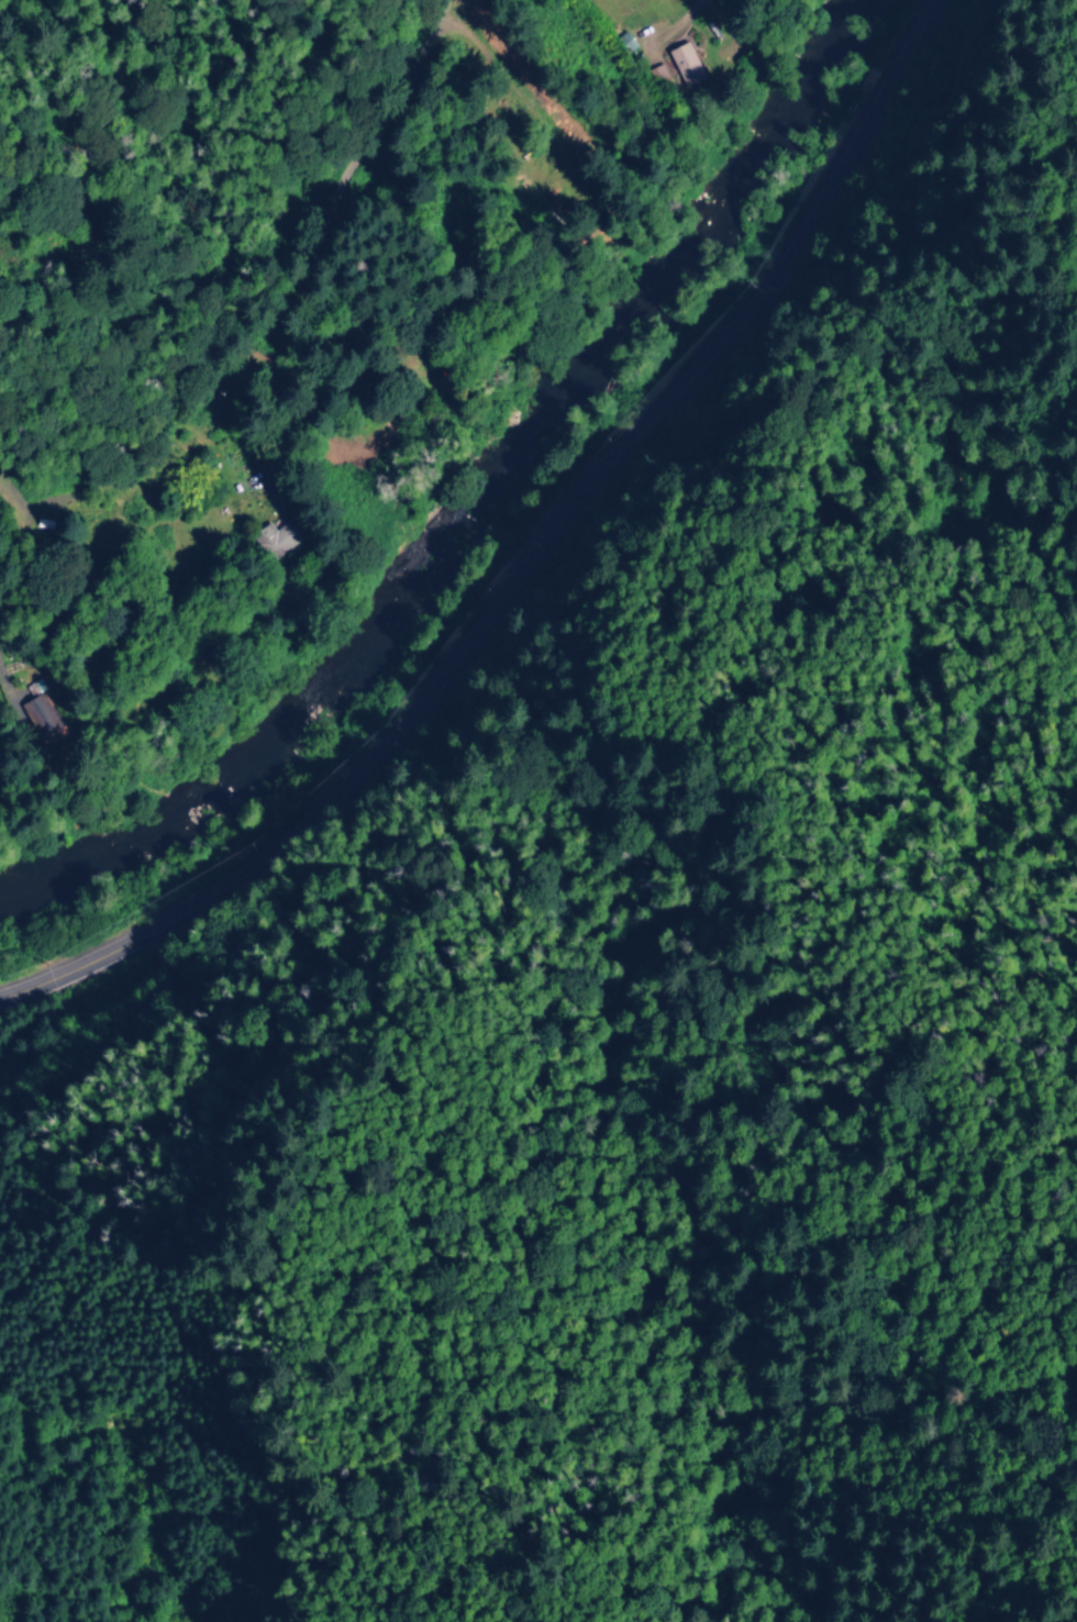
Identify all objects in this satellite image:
building: (623, 42)
building: (682, 63)
building: (655, 74)
road: (265, 288)
river: (480, 507)
building: (274, 538)
road: (529, 559)
building: (36, 707)

